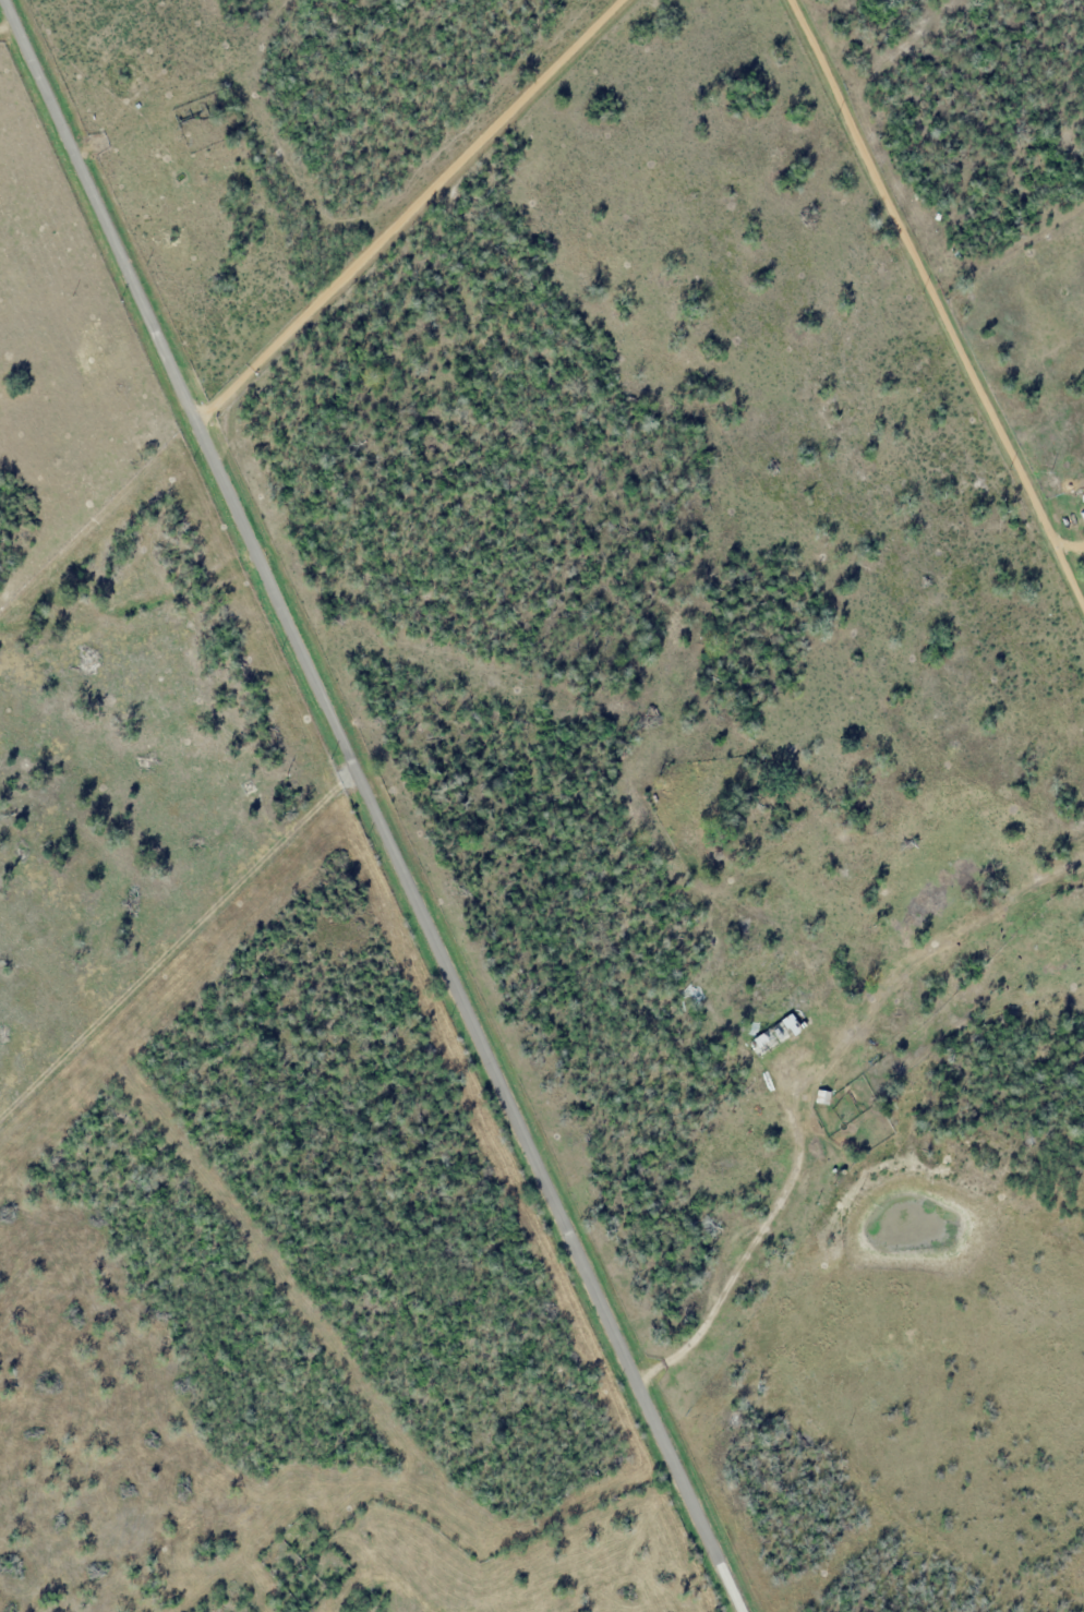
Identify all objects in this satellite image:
road: (377, 806)
building: (1083, 971)
building: (774, 1036)
building: (748, 1056)
building: (823, 1095)
building: (833, 1170)
building: (843, 1172)

